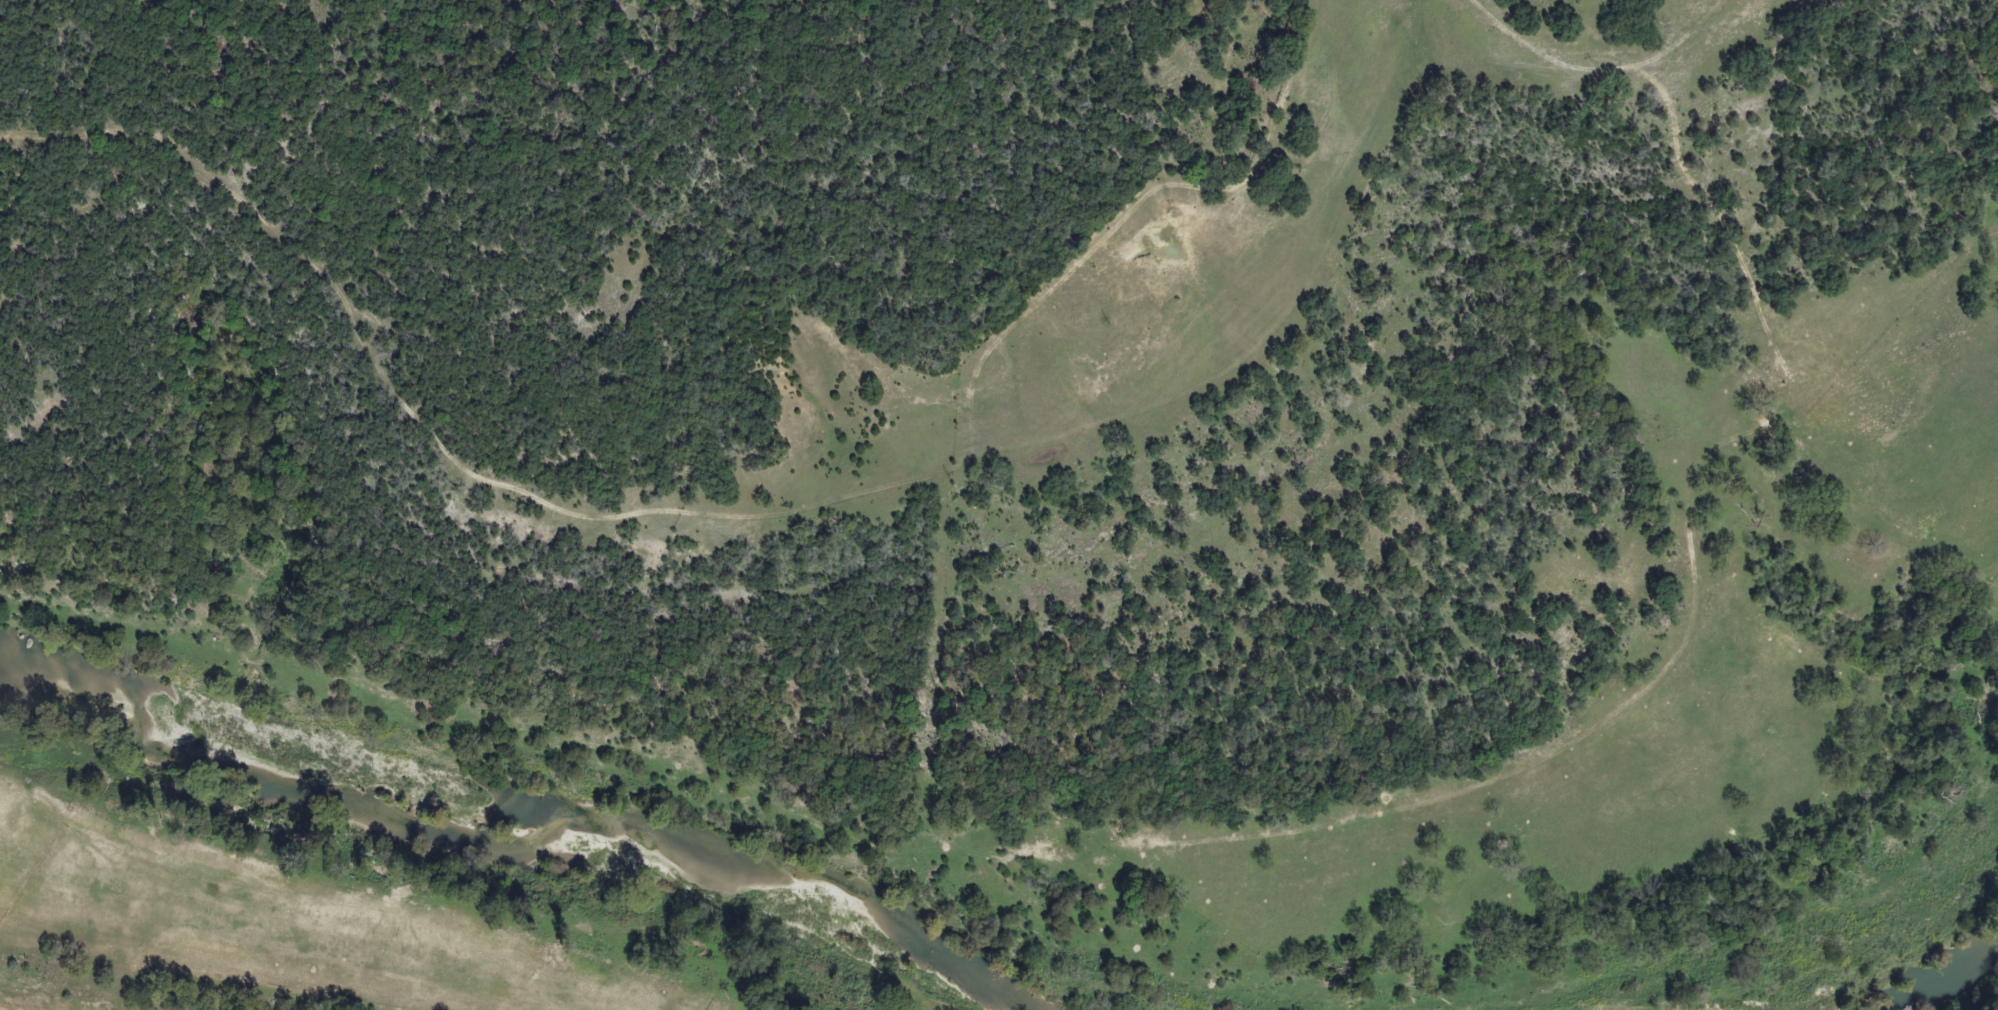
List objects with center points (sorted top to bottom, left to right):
river: (514, 832)
park: (781, 970)
river: (1954, 982)

